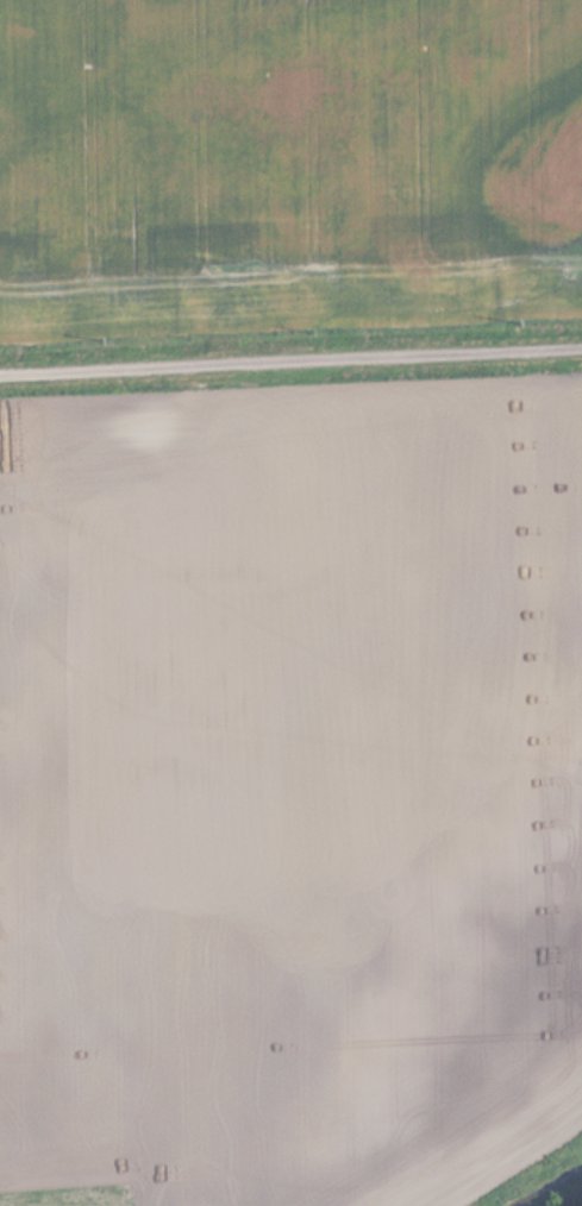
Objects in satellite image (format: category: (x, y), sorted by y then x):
road: (290, 362)

